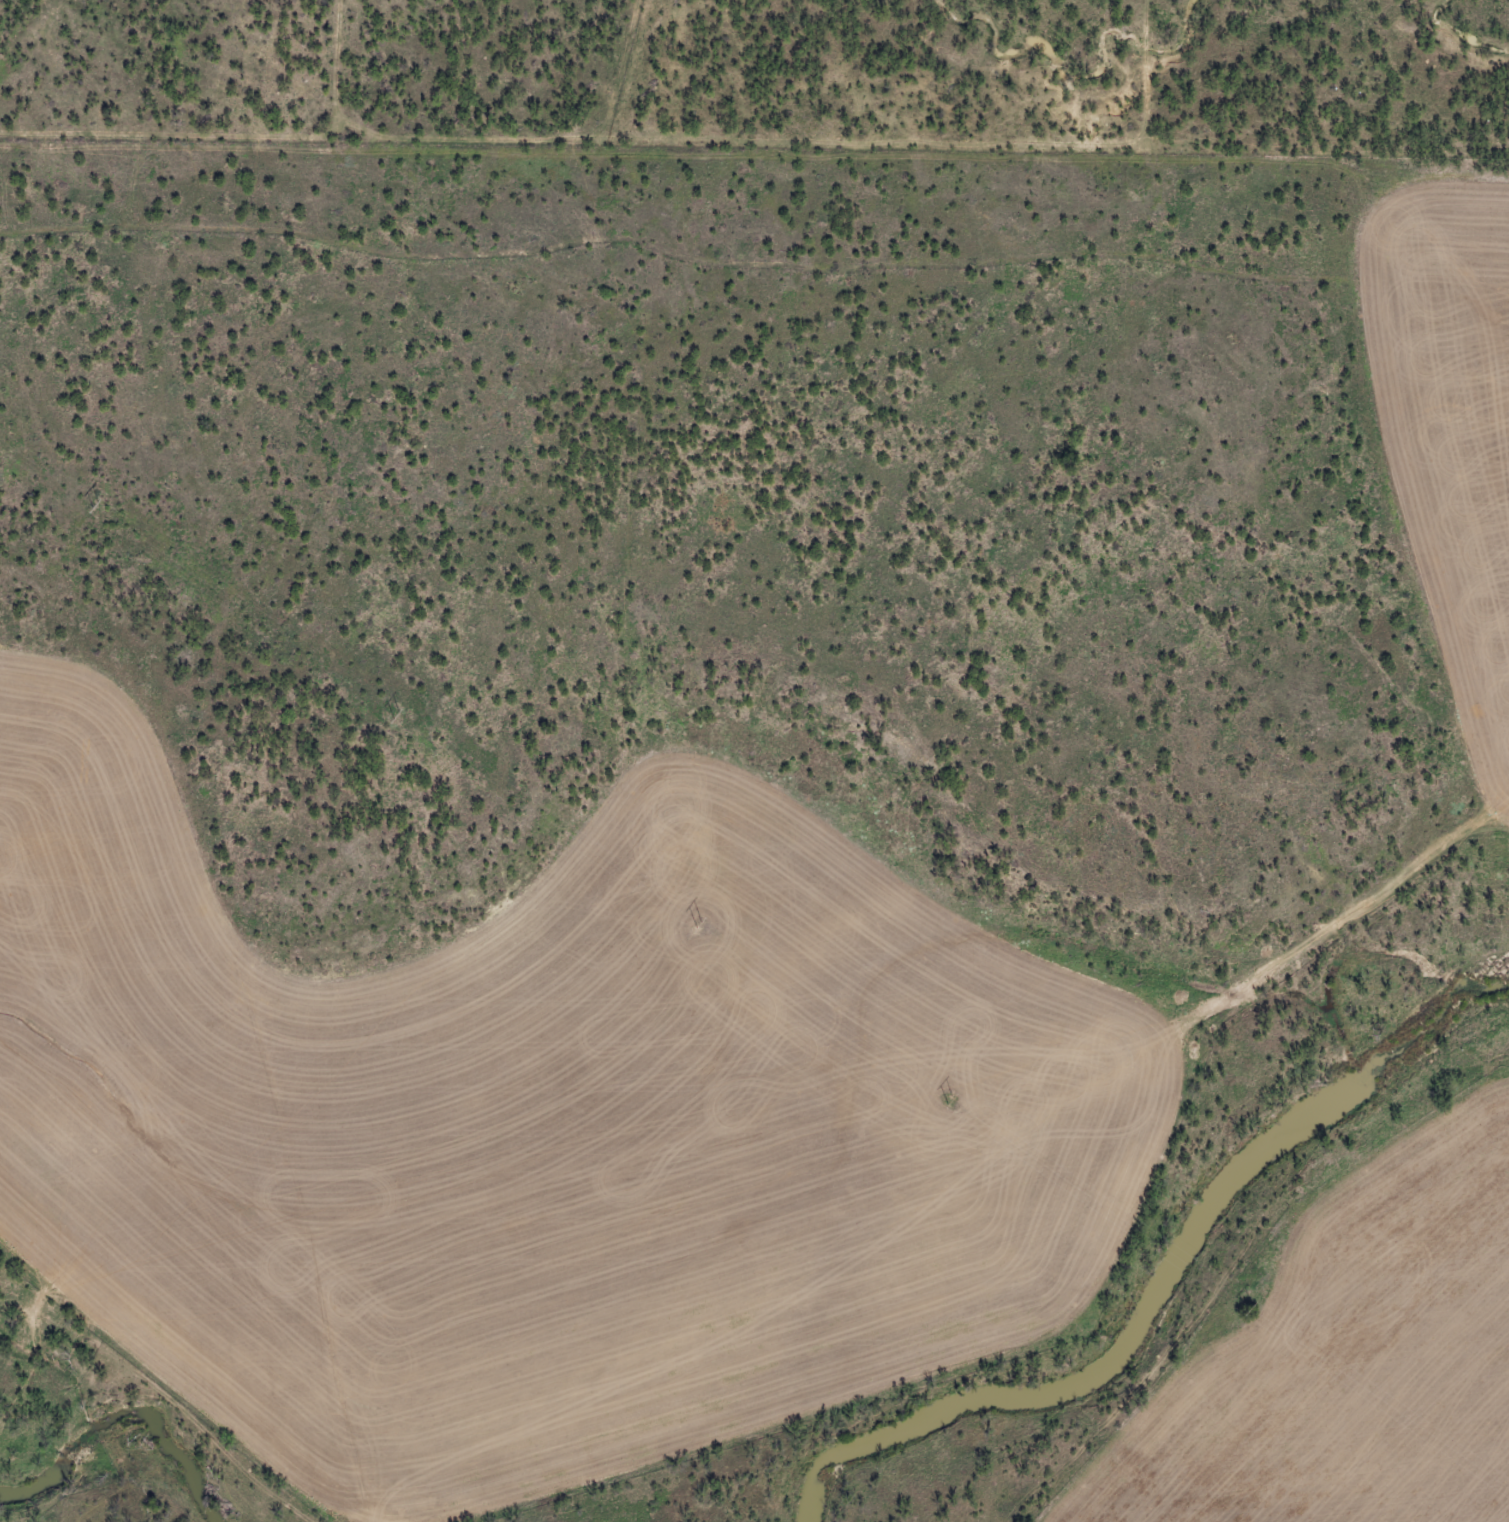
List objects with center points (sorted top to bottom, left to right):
power tower: (97, 507)
power tower: (394, 712)
power tower: (699, 927)
power tower: (953, 1101)
road: (891, 1172)
power tower: (1250, 1318)

